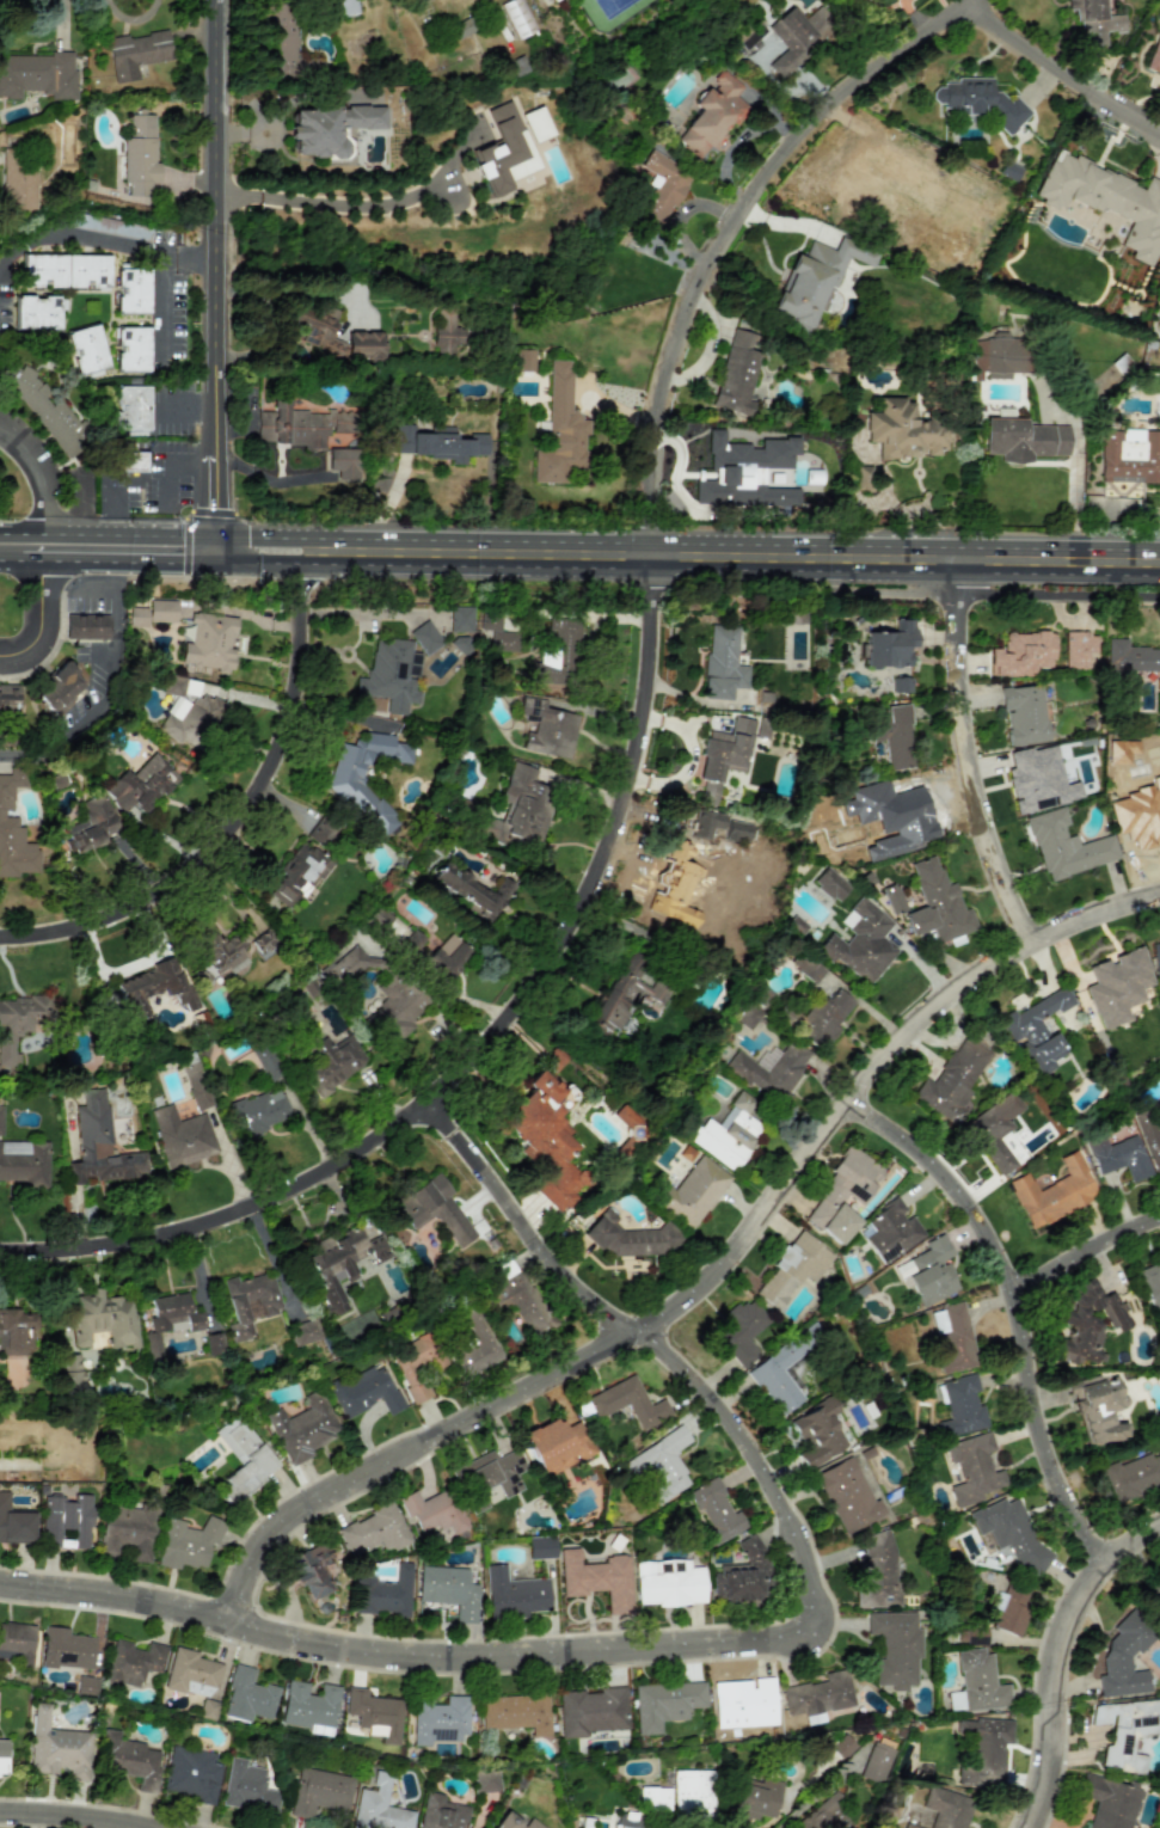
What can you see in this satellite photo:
road: (5, 0)
building: (551, 0)
building: (419, 1)
building: (344, 7)
building: (516, 17)
road: (133, 19)
building: (464, 26)
building: (281, 38)
building: (781, 41)
building: (135, 53)
building: (1154, 57)
road: (1058, 73)
building: (37, 75)
building: (980, 102)
building: (712, 114)
building: (535, 123)
building: (327, 128)
building: (502, 151)
building: (139, 155)
building: (857, 167)
building: (18, 179)
building: (661, 188)
building: (1106, 200)
road: (354, 203)
building: (110, 226)
road: (216, 231)
road: (81, 235)
building: (956, 245)
building: (65, 270)
building: (814, 280)
road: (164, 281)
road: (295, 289)
building: (136, 292)
park: (87, 309)
building: (37, 312)
building: (318, 330)
building: (446, 331)
building: (131, 346)
building: (86, 348)
building: (1000, 356)
building: (524, 360)
building: (737, 373)
road: (185, 406)
building: (133, 410)
building: (47, 411)
building: (297, 424)
building: (560, 430)
building: (903, 430)
building: (1023, 440)
building: (438, 443)
building: (1130, 456)
building: (128, 461)
road: (185, 461)
building: (343, 462)
building: (745, 473)
road: (38, 477)
building: (863, 478)
road: (116, 480)
road: (168, 491)
road: (215, 498)
road: (24, 534)
road: (131, 535)
road: (266, 536)
road: (215, 547)
road: (20, 558)
road: (80, 558)
road: (167, 558)
road: (265, 559)
road: (737, 559)
building: (153, 613)
building: (460, 619)
road: (39, 620)
building: (85, 625)
building: (496, 636)
building: (425, 637)
building: (209, 642)
building: (890, 645)
building: (1078, 649)
building: (1021, 654)
building: (1131, 657)
building: (723, 663)
building: (391, 675)
building: (174, 683)
building: (901, 685)
building: (57, 688)
road: (116, 694)
building: (8, 698)
building: (1159, 704)
building: (1025, 714)
building: (191, 722)
building: (547, 730)
building: (894, 736)
road: (639, 750)
building: (725, 754)
road: (976, 756)
building: (1116, 757)
building: (1038, 780)
building: (141, 785)
building: (346, 786)
building: (518, 808)
road: (234, 820)
building: (92, 824)
building: (13, 830)
building: (1066, 846)
building: (679, 873)
building: (297, 875)
building: (829, 884)
building: (471, 890)
building: (892, 898)
building: (935, 904)
building: (860, 943)
building: (222, 952)
building: (446, 957)
building: (1155, 957)
building: (345, 965)
building: (808, 968)
building: (1117, 986)
building: (152, 988)
building: (626, 992)
building: (397, 1006)
building: (747, 1014)
building: (824, 1018)
building: (17, 1029)
building: (1036, 1029)
building: (268, 1061)
building: (332, 1063)
building: (769, 1071)
building: (952, 1080)
building: (260, 1111)
building: (994, 1131)
building: (726, 1133)
building: (182, 1136)
building: (545, 1137)
building: (1149, 1137)
building: (99, 1145)
building: (1118, 1155)
building: (23, 1160)
building: (692, 1191)
building: (1052, 1192)
building: (842, 1195)
building: (434, 1209)
building: (891, 1231)
building: (630, 1237)
road: (1088, 1246)
road: (270, 1258)
building: (339, 1264)
building: (792, 1269)
road: (712, 1271)
building: (932, 1271)
road: (198, 1274)
building: (1150, 1284)
road: (1024, 1299)
building: (250, 1302)
building: (521, 1303)
building: (99, 1319)
building: (1087, 1323)
building: (16, 1331)
building: (741, 1331)
building: (305, 1332)
building: (952, 1337)
road: (664, 1338)
building: (475, 1345)
building: (417, 1366)
building: (70, 1370)
building: (366, 1391)
building: (627, 1403)
building: (960, 1406)
building: (1098, 1409)
building: (302, 1428)
building: (815, 1433)
building: (556, 1444)
building: (243, 1459)
building: (972, 1468)
building: (1131, 1476)
building: (487, 1477)
building: (846, 1495)
building: (432, 1511)
building: (714, 1511)
building: (66, 1522)
building: (14, 1523)
building: (373, 1532)
building: (1009, 1532)
building: (125, 1533)
building: (188, 1544)
building: (540, 1547)
building: (311, 1570)
building: (876, 1571)
building: (741, 1574)
building: (596, 1578)
building: (668, 1583)
building: (448, 1590)
building: (383, 1594)
building: (514, 1594)
building: (1155, 1595)
building: (1009, 1609)
building: (16, 1643)
building: (895, 1648)
building: (66, 1649)
road: (407, 1652)
road: (1058, 1656)
building: (1124, 1656)
building: (131, 1662)
building: (190, 1673)
building: (980, 1681)
building: (247, 1697)
building: (817, 1697)
building: (955, 1700)
building: (743, 1703)
building: (664, 1704)
building: (307, 1705)
building: (591, 1711)
building: (516, 1712)
building: (374, 1714)
building: (438, 1720)
building: (1125, 1731)
building: (841, 1746)
building: (56, 1748)
building: (982, 1752)
building: (2, 1758)
building: (129, 1760)
building: (876, 1762)
building: (190, 1774)
building: (486, 1780)
building: (246, 1787)
building: (319, 1792)
building: (692, 1793)
building: (653, 1798)
building: (754, 1798)
building: (1110, 1802)
building: (379, 1806)
building: (947, 1808)
building: (442, 1812)
road: (91, 1816)
building: (825, 1816)
building: (628, 1820)
building: (514, 1822)
building: (909, 1826)

